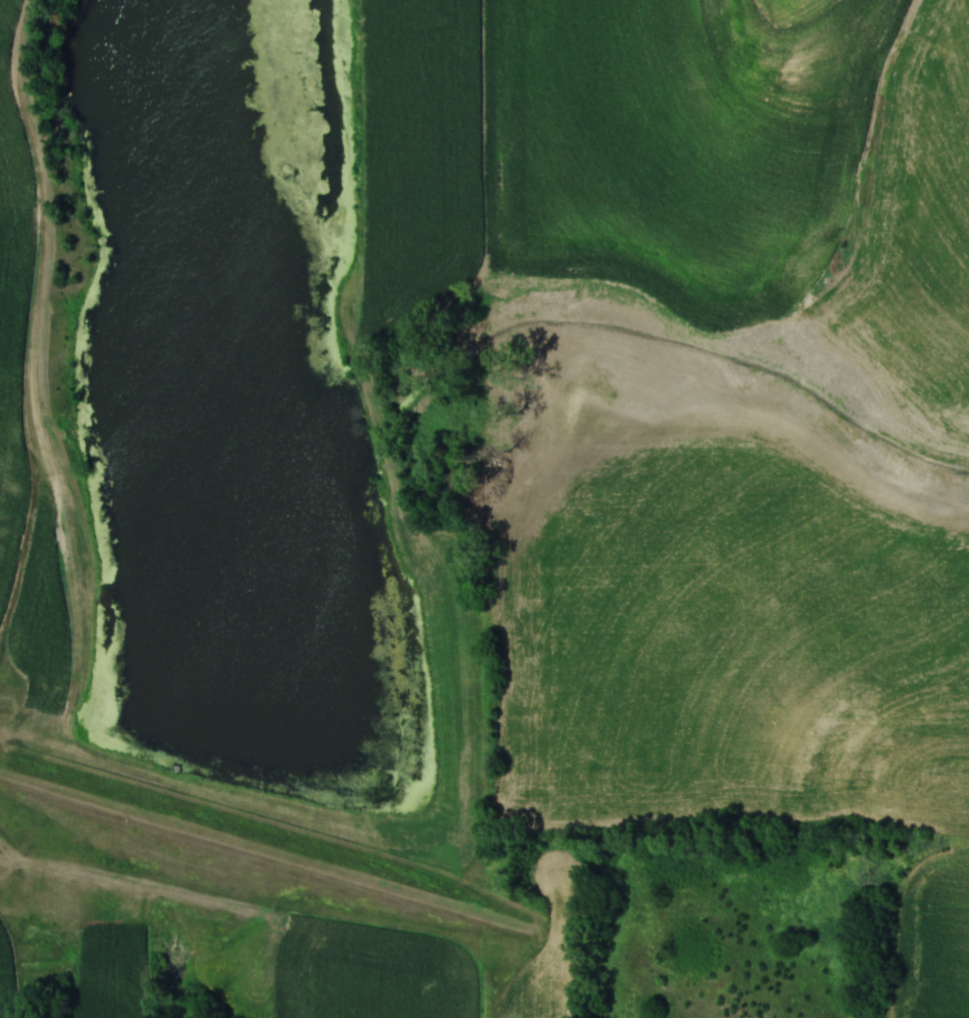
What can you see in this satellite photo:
crop: (547, 946)

